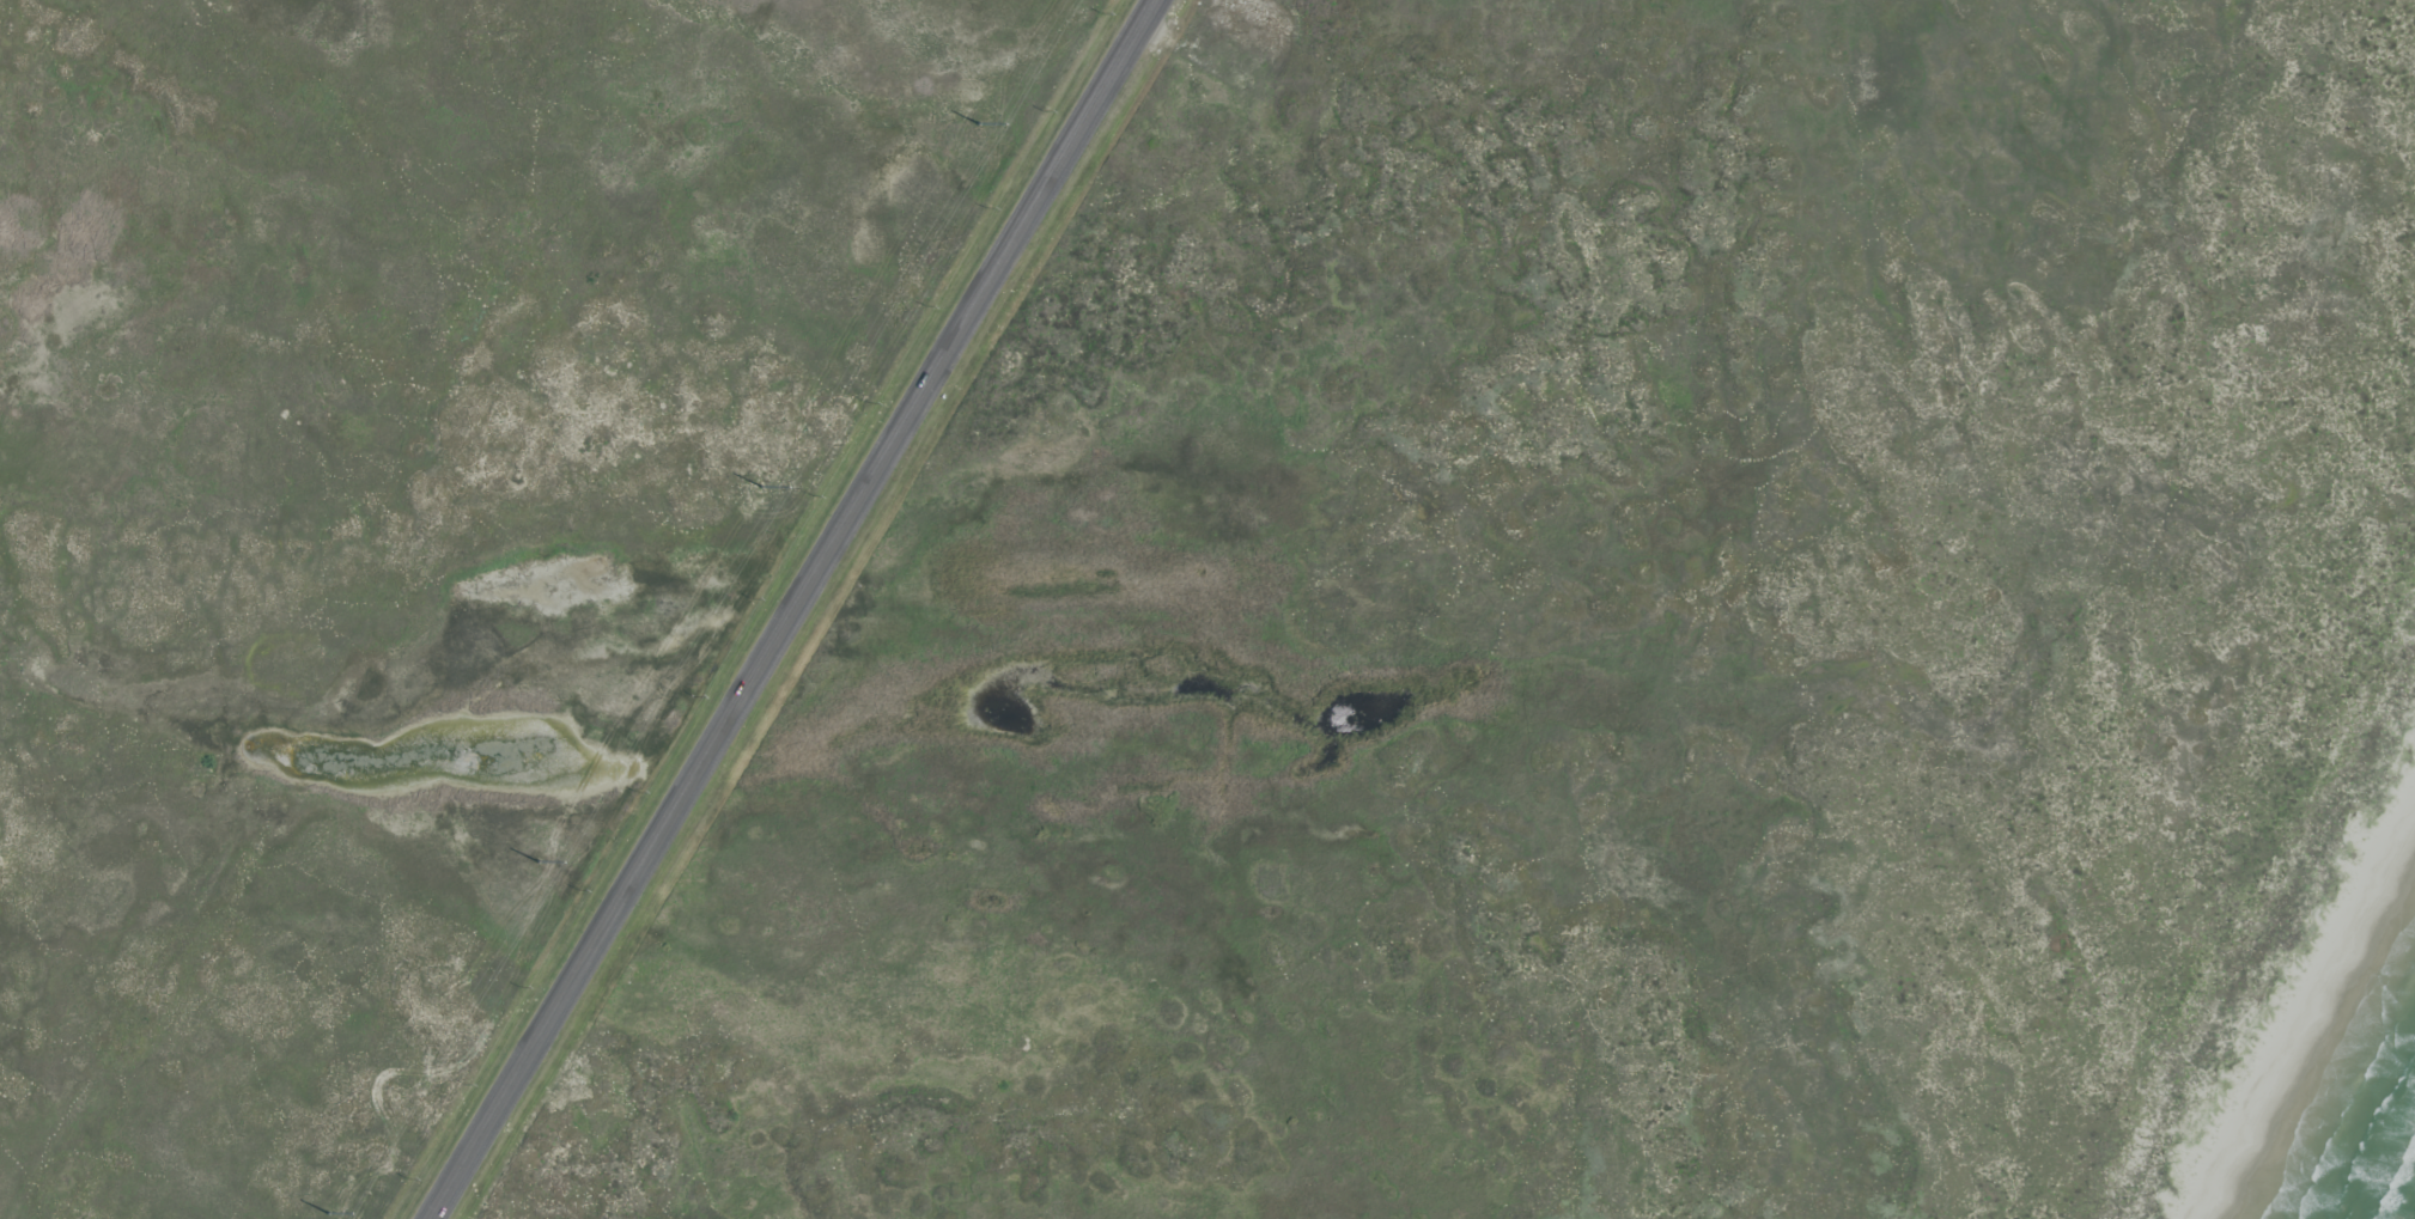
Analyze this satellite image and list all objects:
power tower: (980, 127)
power tower: (762, 488)
park: (402, 511)
road: (802, 609)
park: (1614, 656)
power tower: (542, 864)
power tower: (329, 1215)

